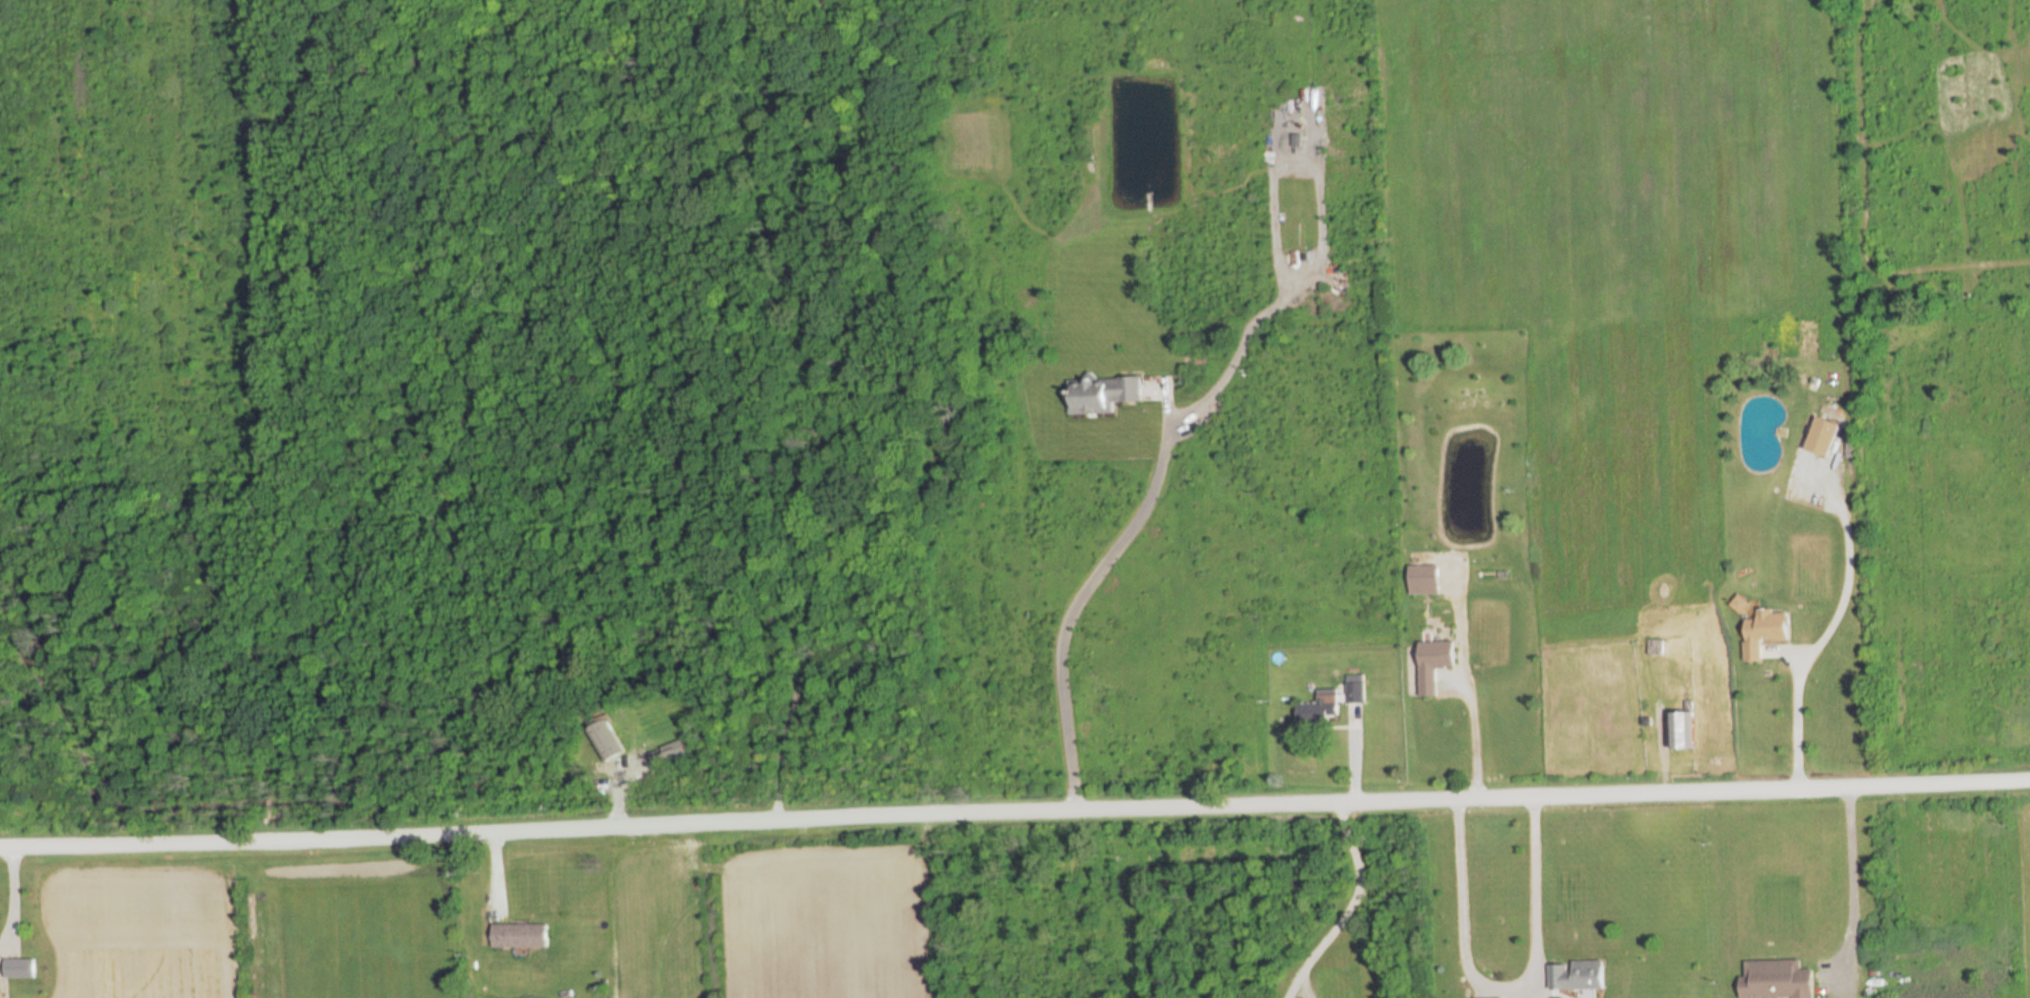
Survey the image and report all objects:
building: (1102, 394)
building: (1822, 436)
road: (1139, 513)
road: (1843, 572)
building: (1424, 579)
building: (1764, 631)
building: (1434, 664)
road: (1462, 680)
building: (1354, 701)
building: (1319, 708)
road: (1792, 716)
building: (1681, 731)
road: (1014, 805)
road: (1847, 881)
road: (1345, 901)
building: (520, 936)
building: (19, 968)
building: (1577, 976)
building: (1777, 980)
road: (1499, 983)

